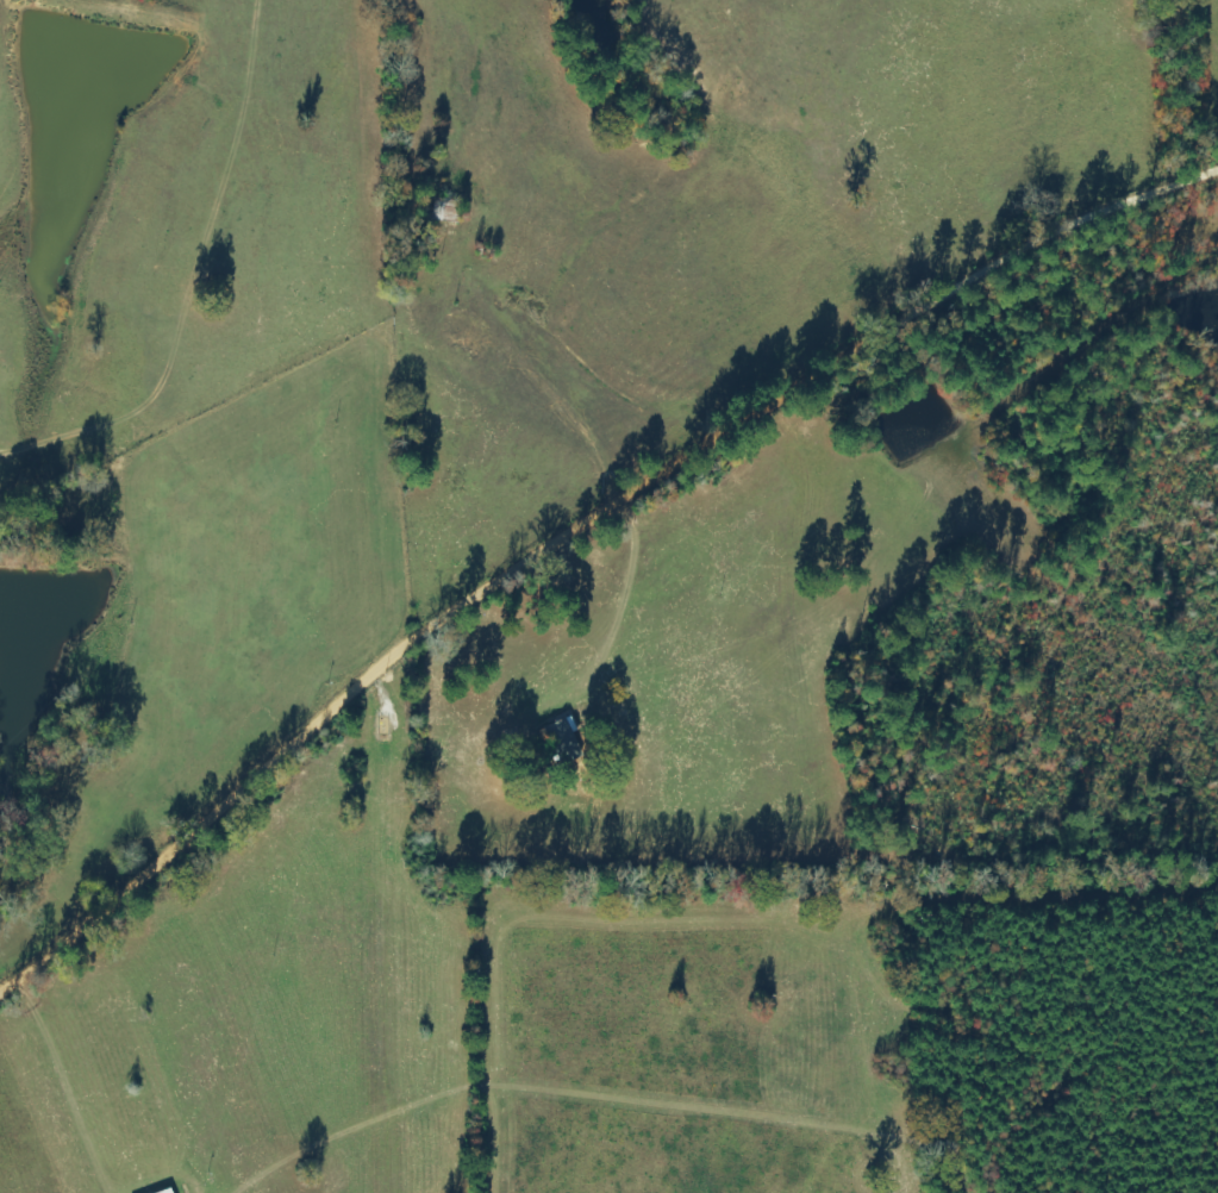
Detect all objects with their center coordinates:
road: (575, 543)

